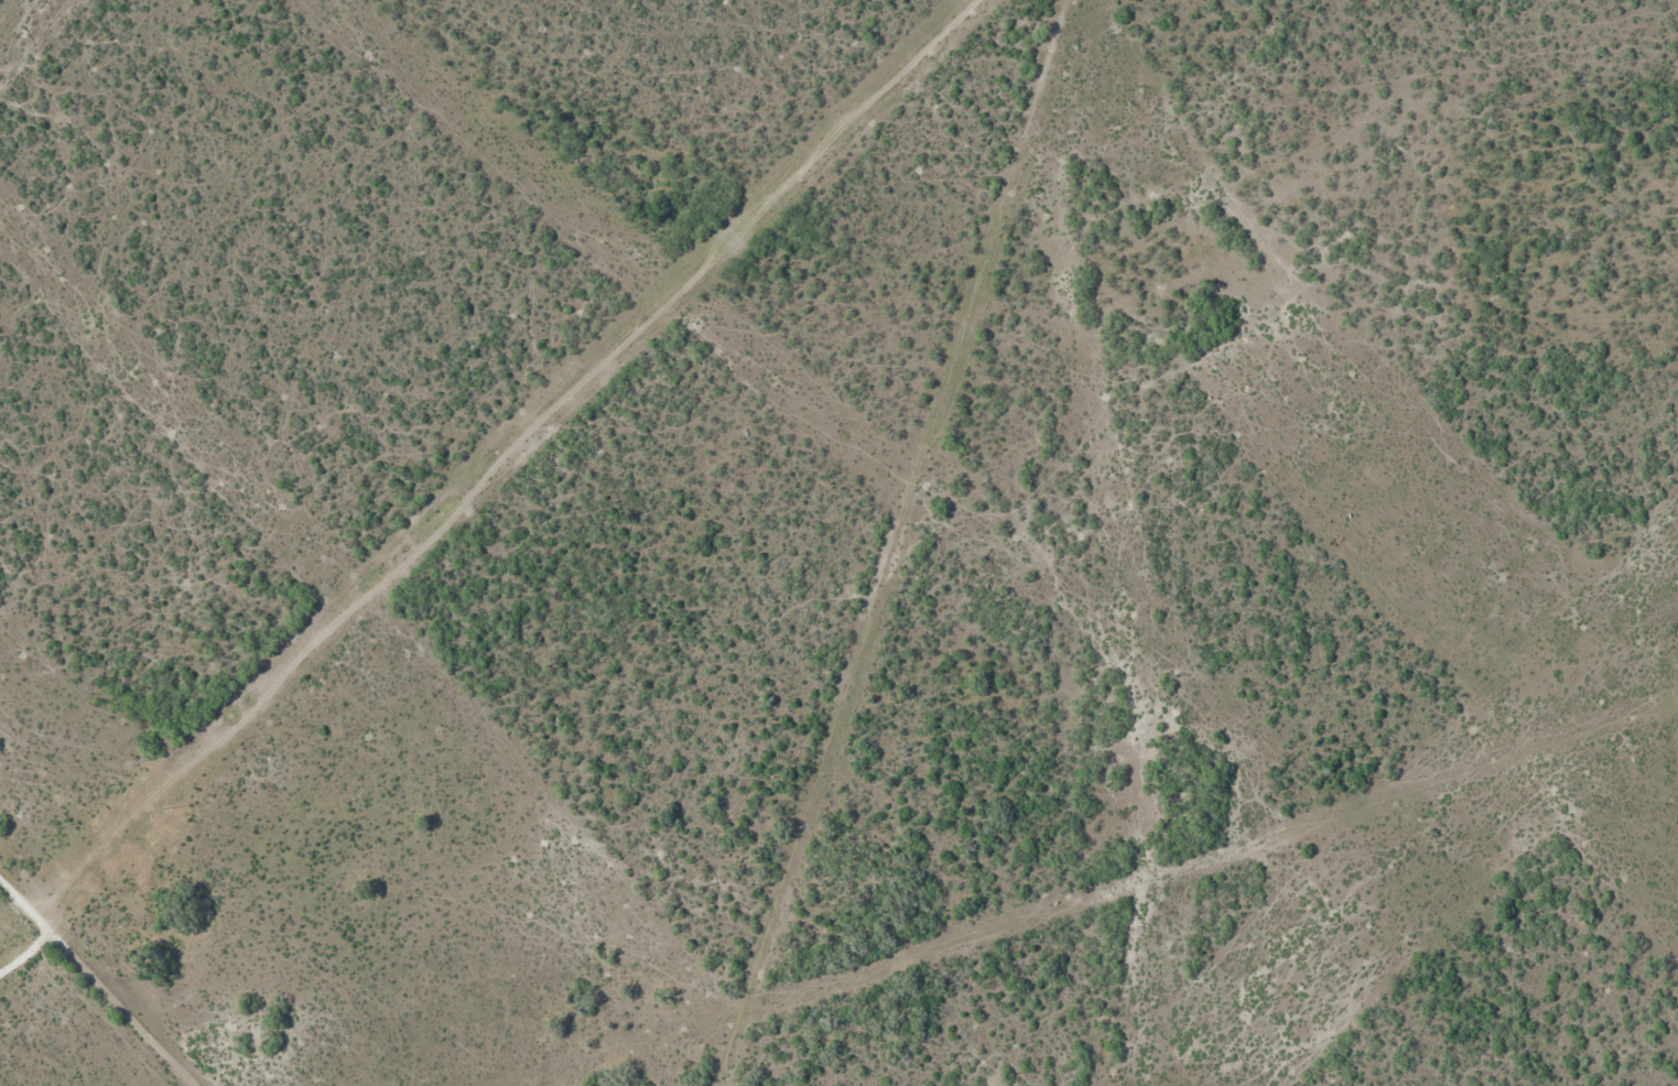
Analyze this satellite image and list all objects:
road: (89, 990)

